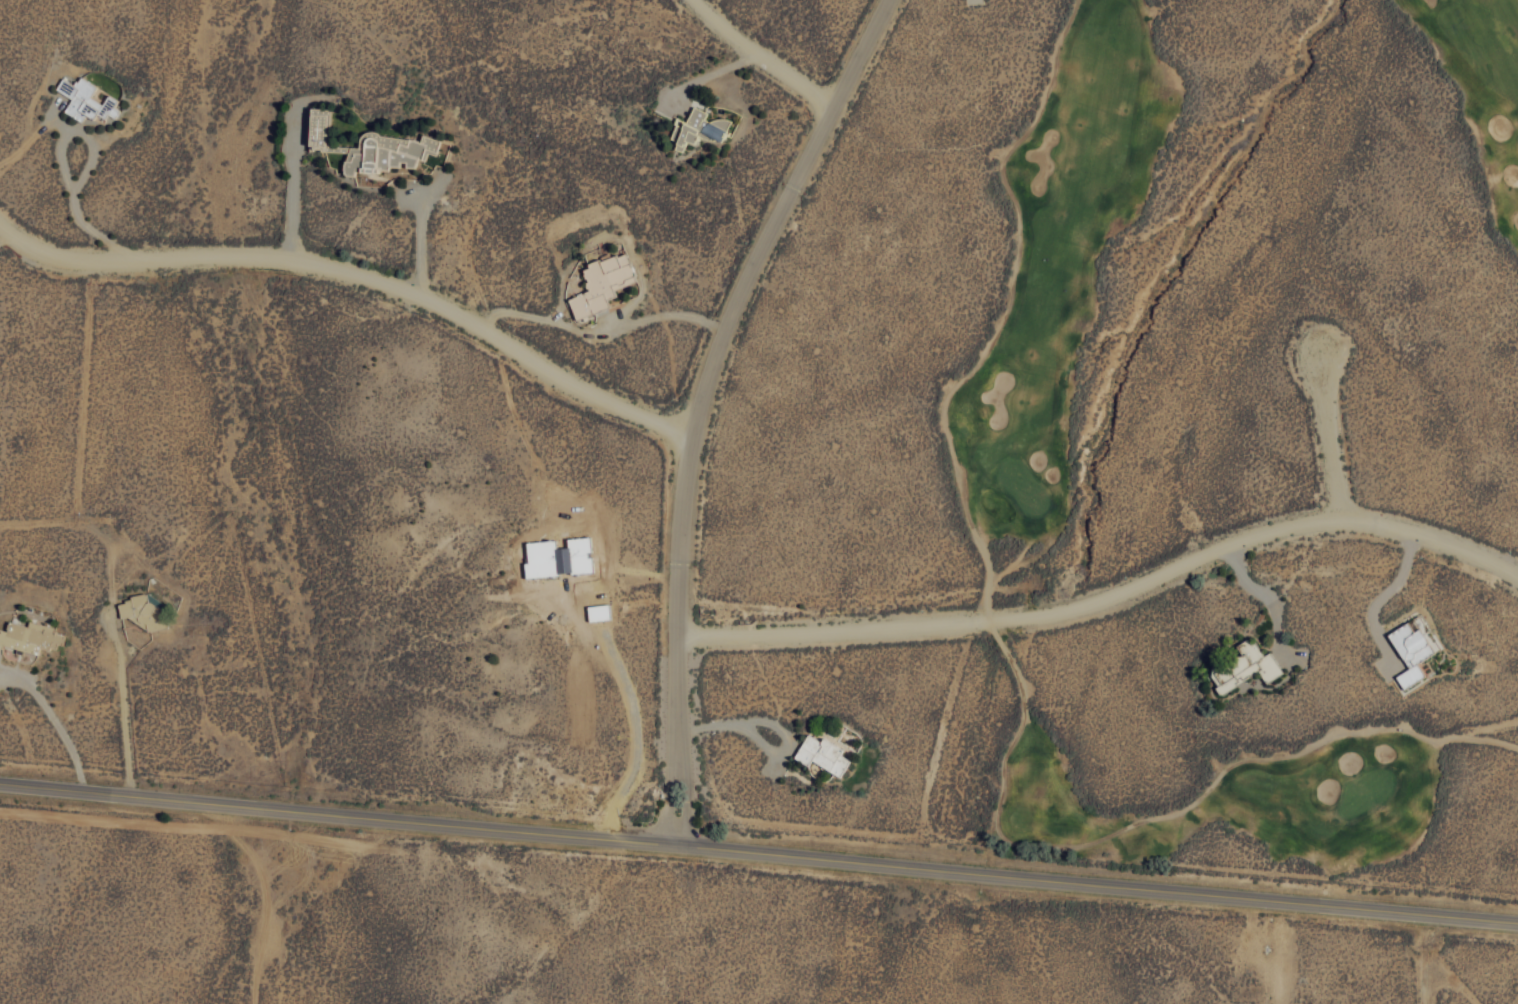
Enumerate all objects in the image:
road: (778, 50)
building: (85, 100)
building: (316, 126)
building: (695, 128)
road: (358, 273)
building: (600, 283)
road: (702, 401)
park: (1235, 435)
road: (1325, 435)
building: (557, 557)
road: (1110, 596)
building: (597, 612)
building: (29, 636)
building: (1411, 648)
building: (1244, 667)
building: (821, 754)
road: (759, 851)

